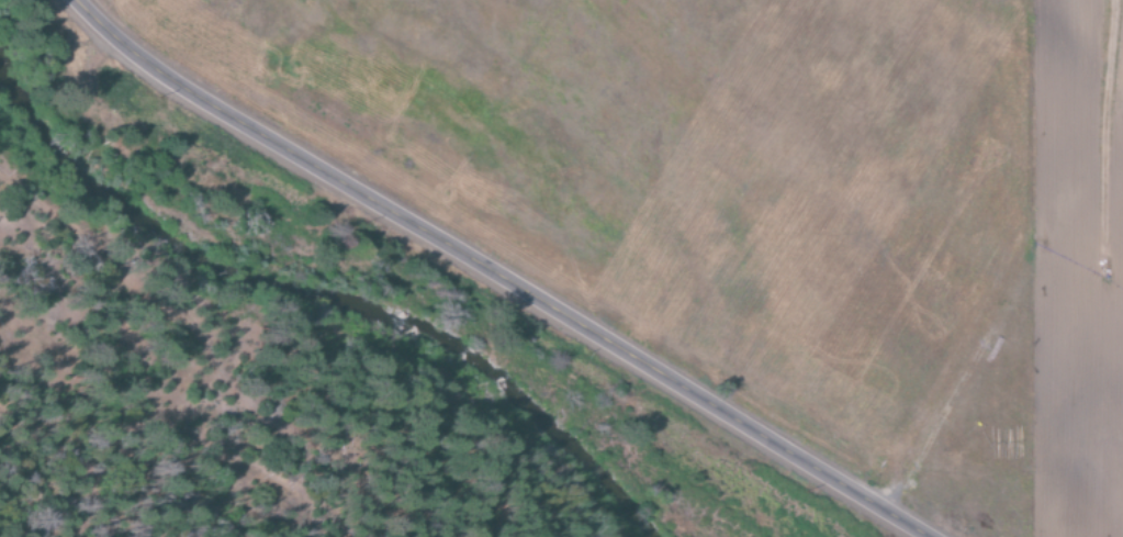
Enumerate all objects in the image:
road: (495, 277)
river: (342, 295)

